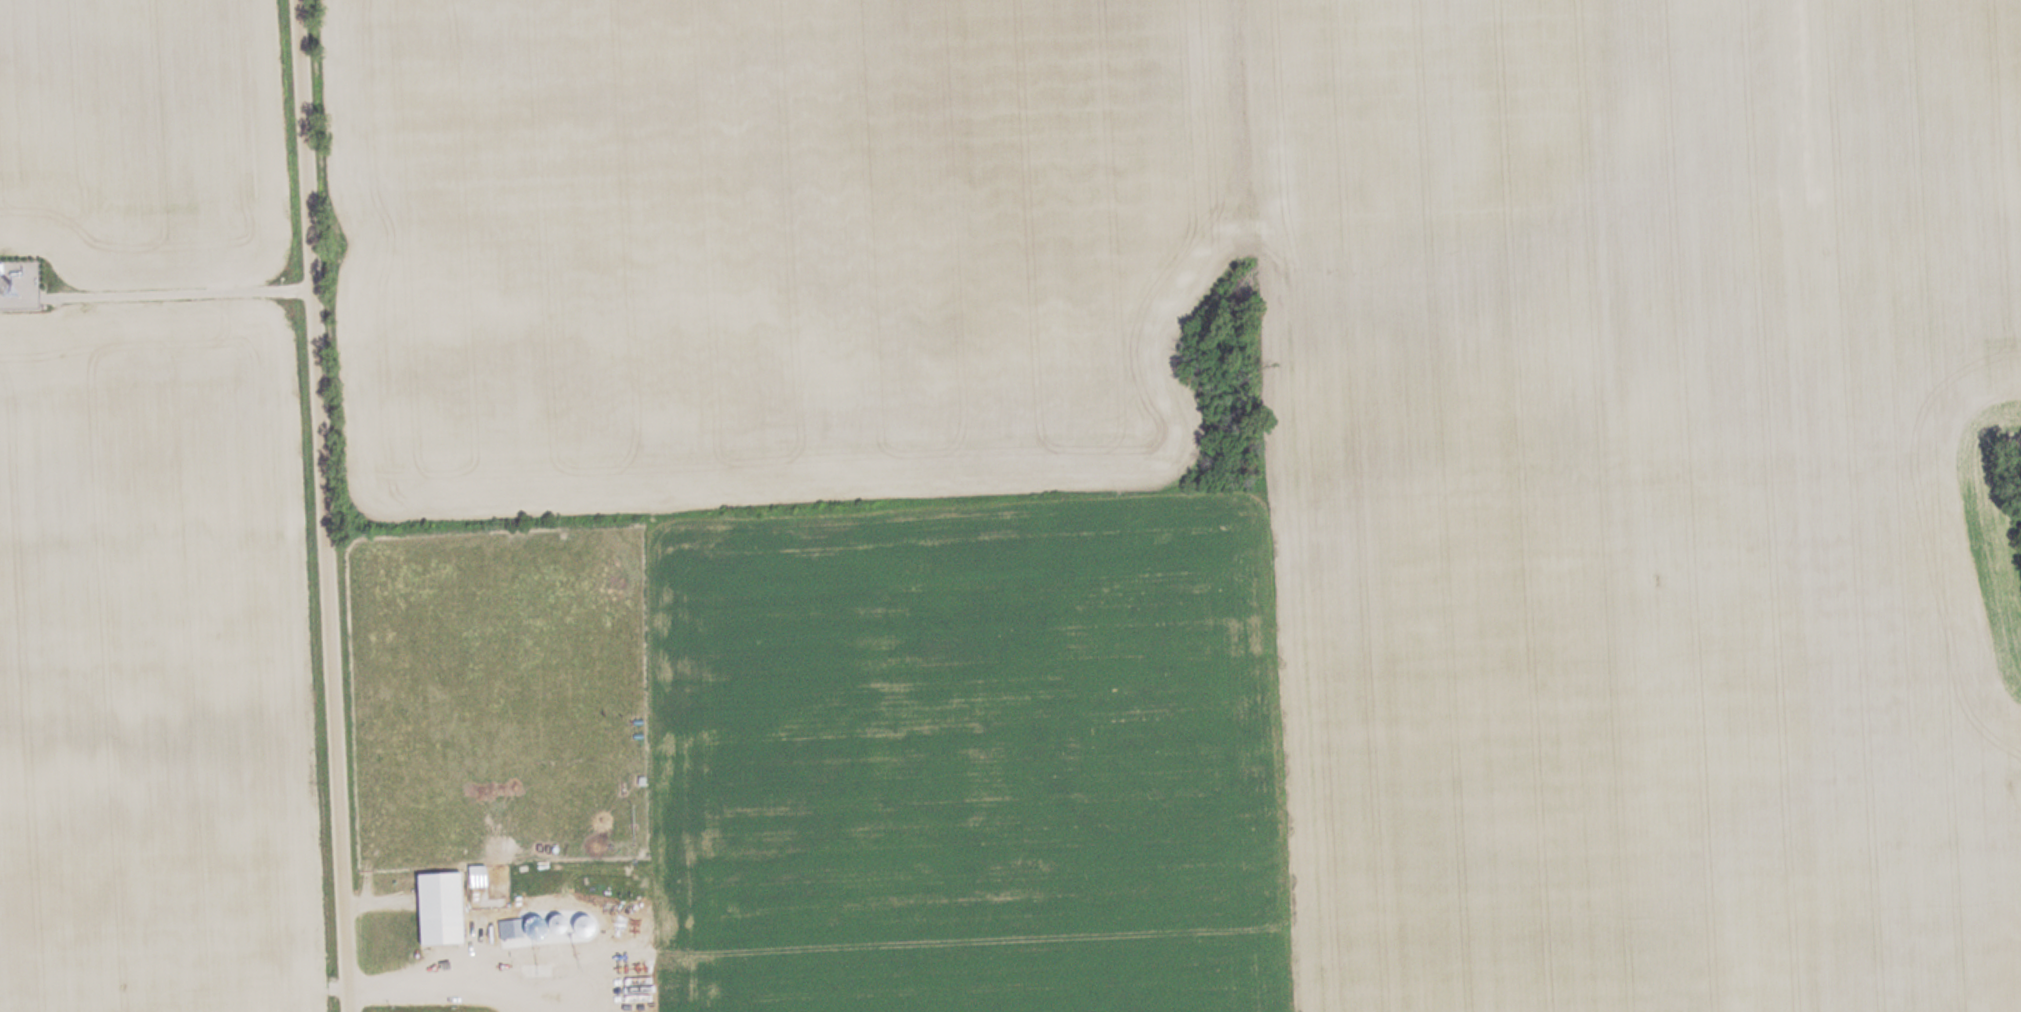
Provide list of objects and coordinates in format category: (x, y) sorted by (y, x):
crop: (1644, 500)
road: (315, 506)
building: (444, 908)
building: (589, 926)
building: (512, 929)

